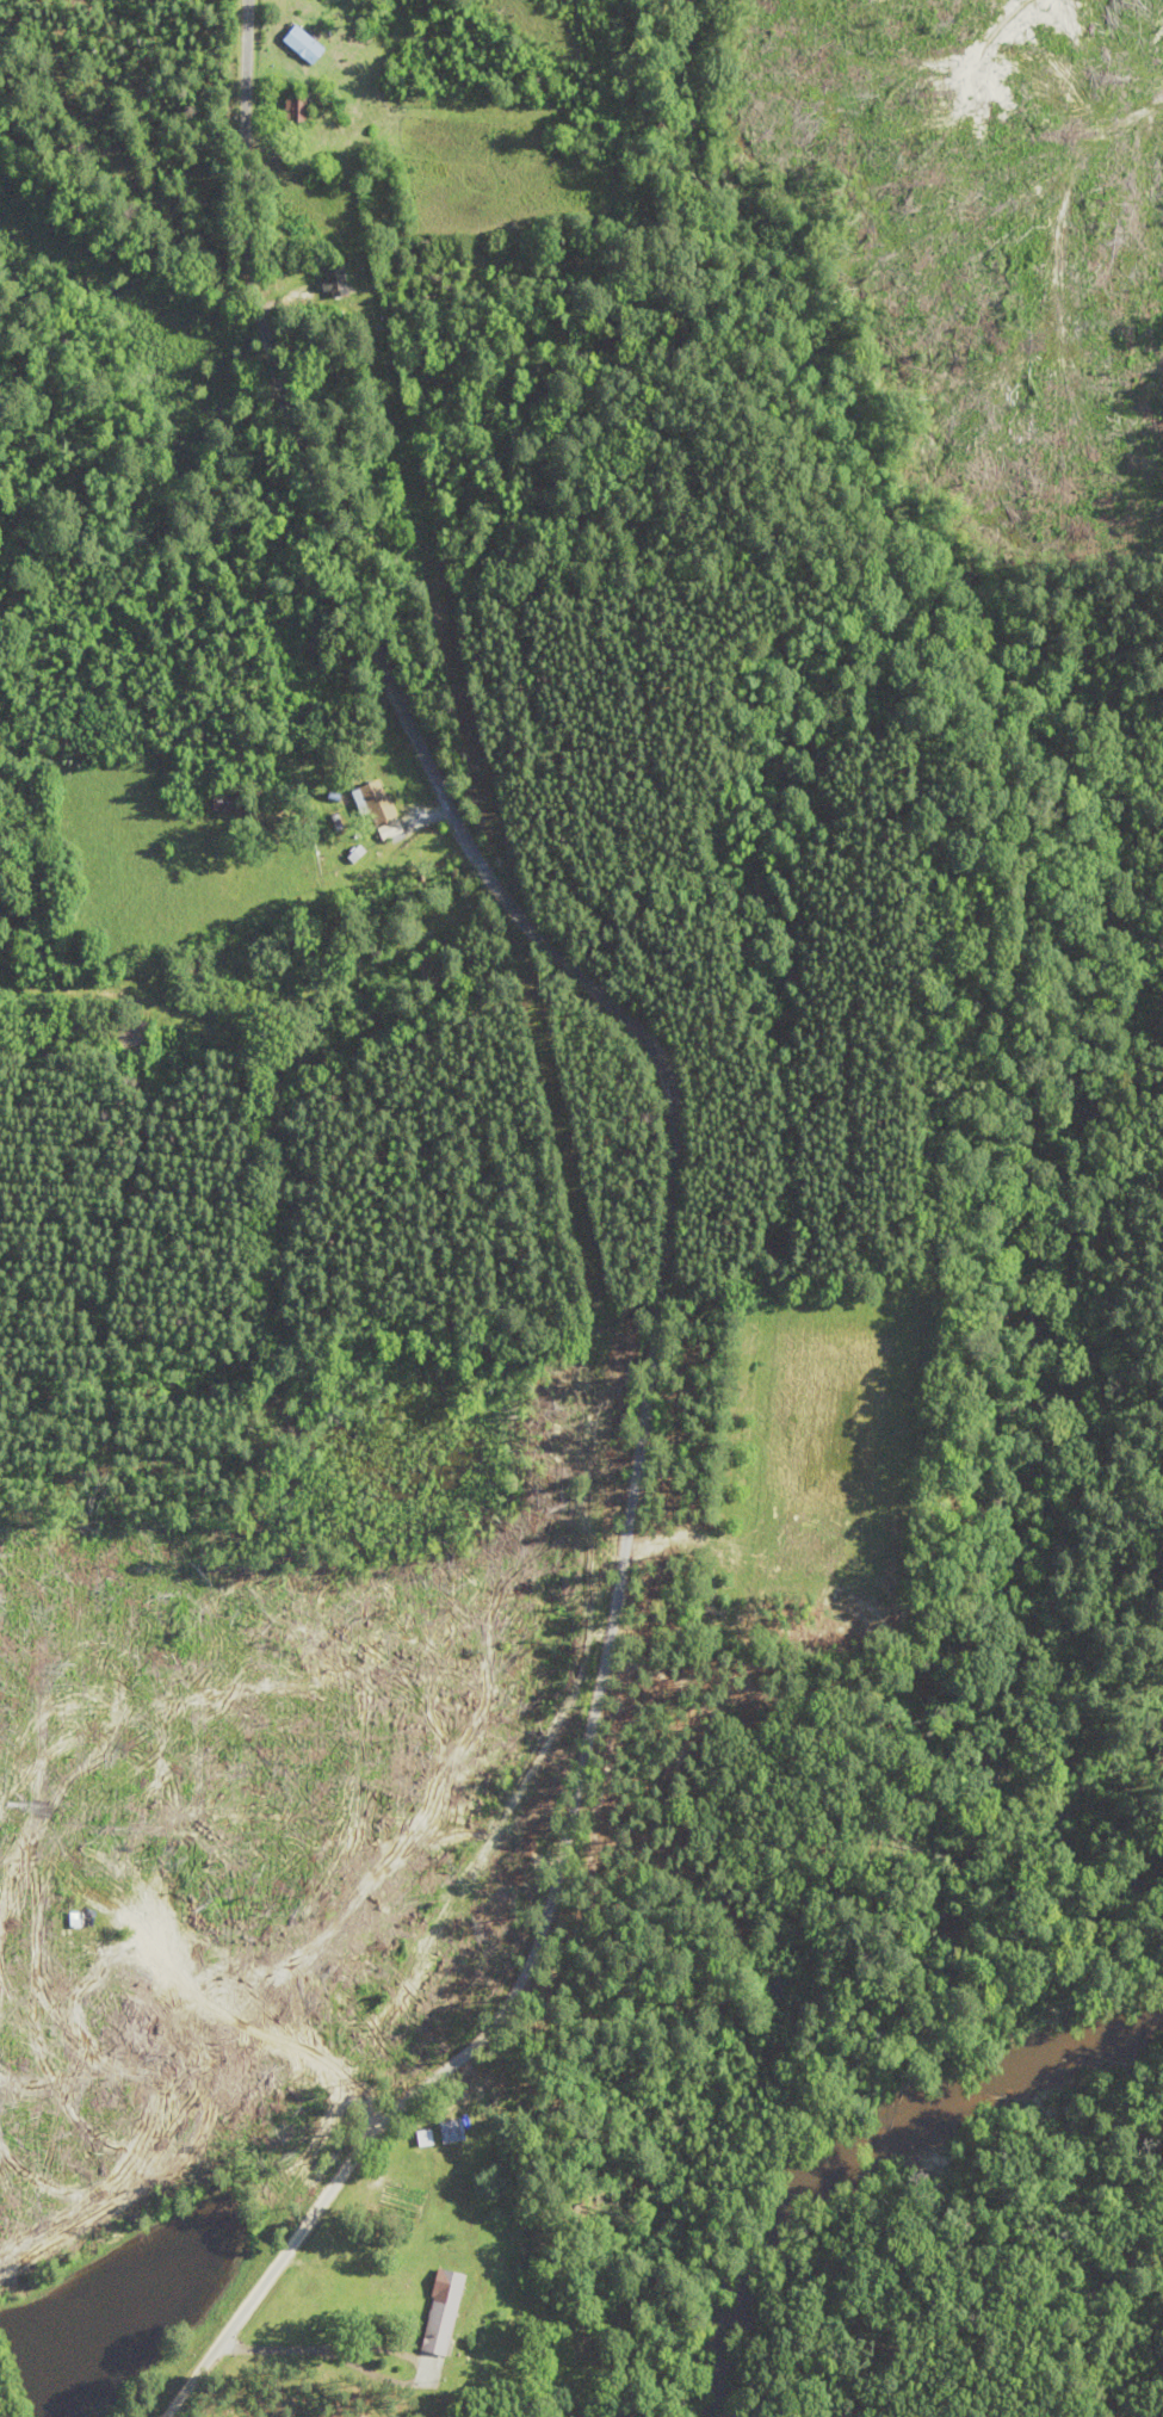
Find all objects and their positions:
building: (305, 44)
building: (381, 802)
building: (431, 971)
road: (656, 1219)
building: (454, 2129)
building: (426, 2138)
river: (860, 2158)
building: (445, 2312)
road: (280, 2322)

